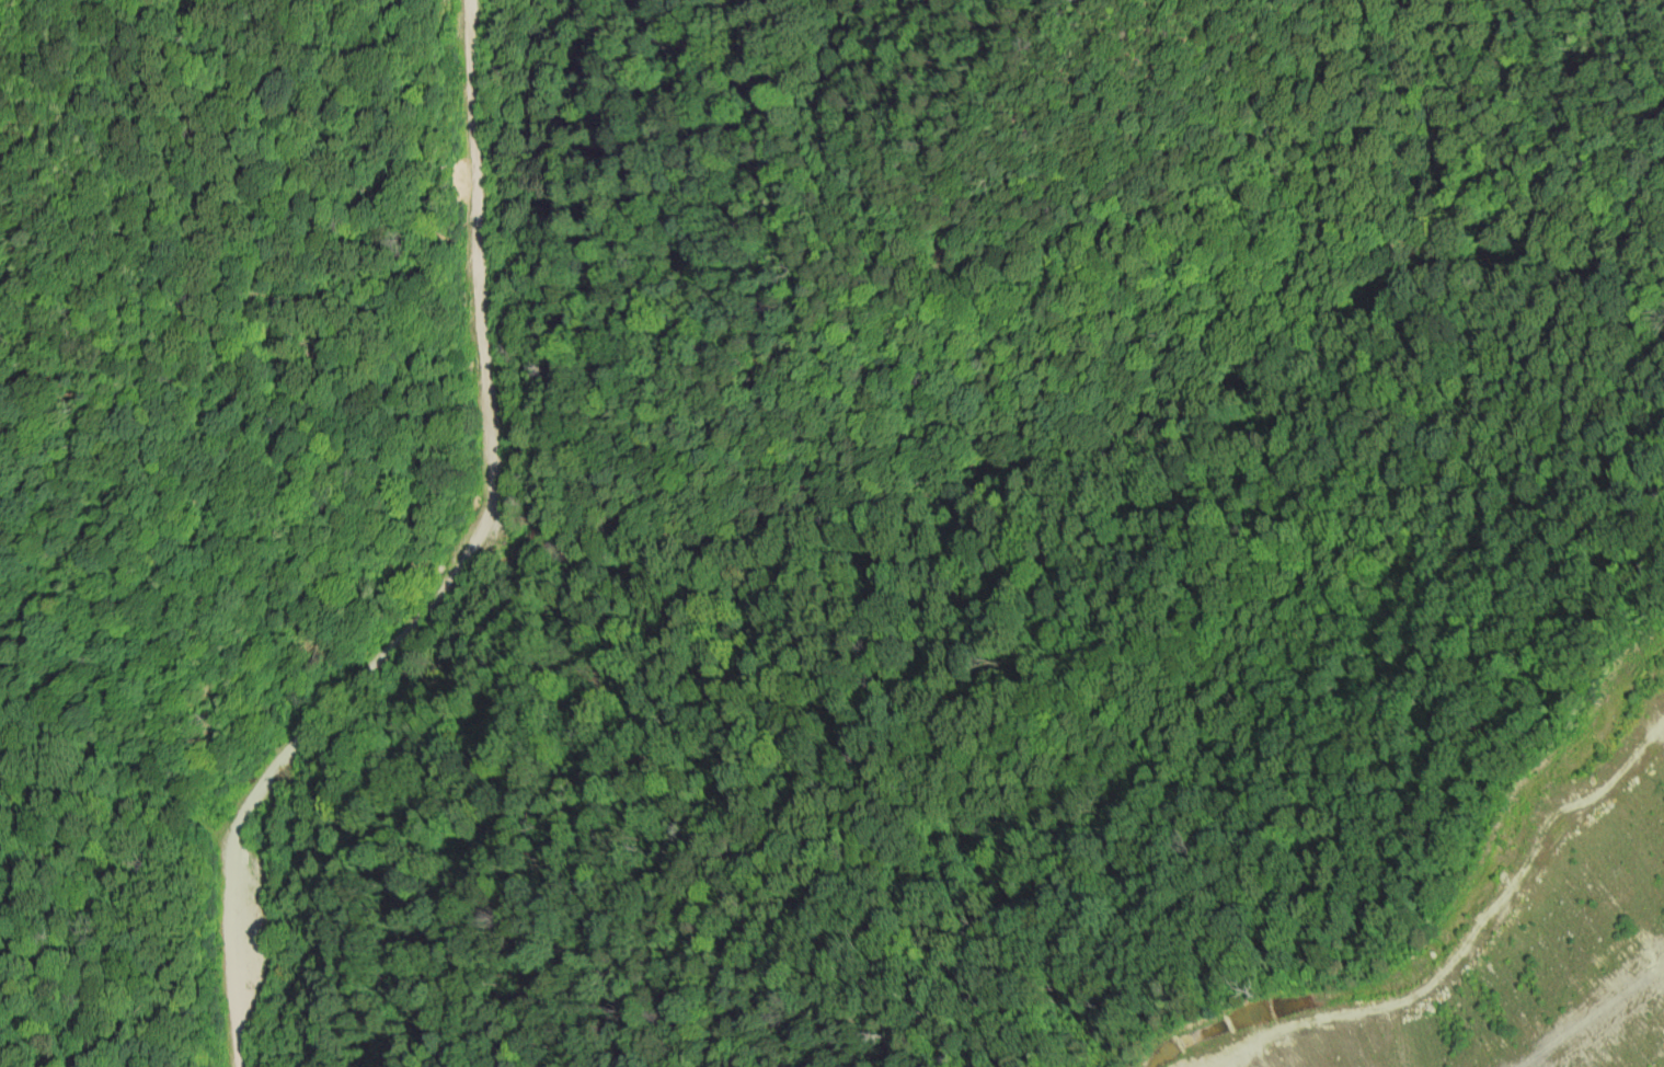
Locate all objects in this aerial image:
road: (149, 977)

